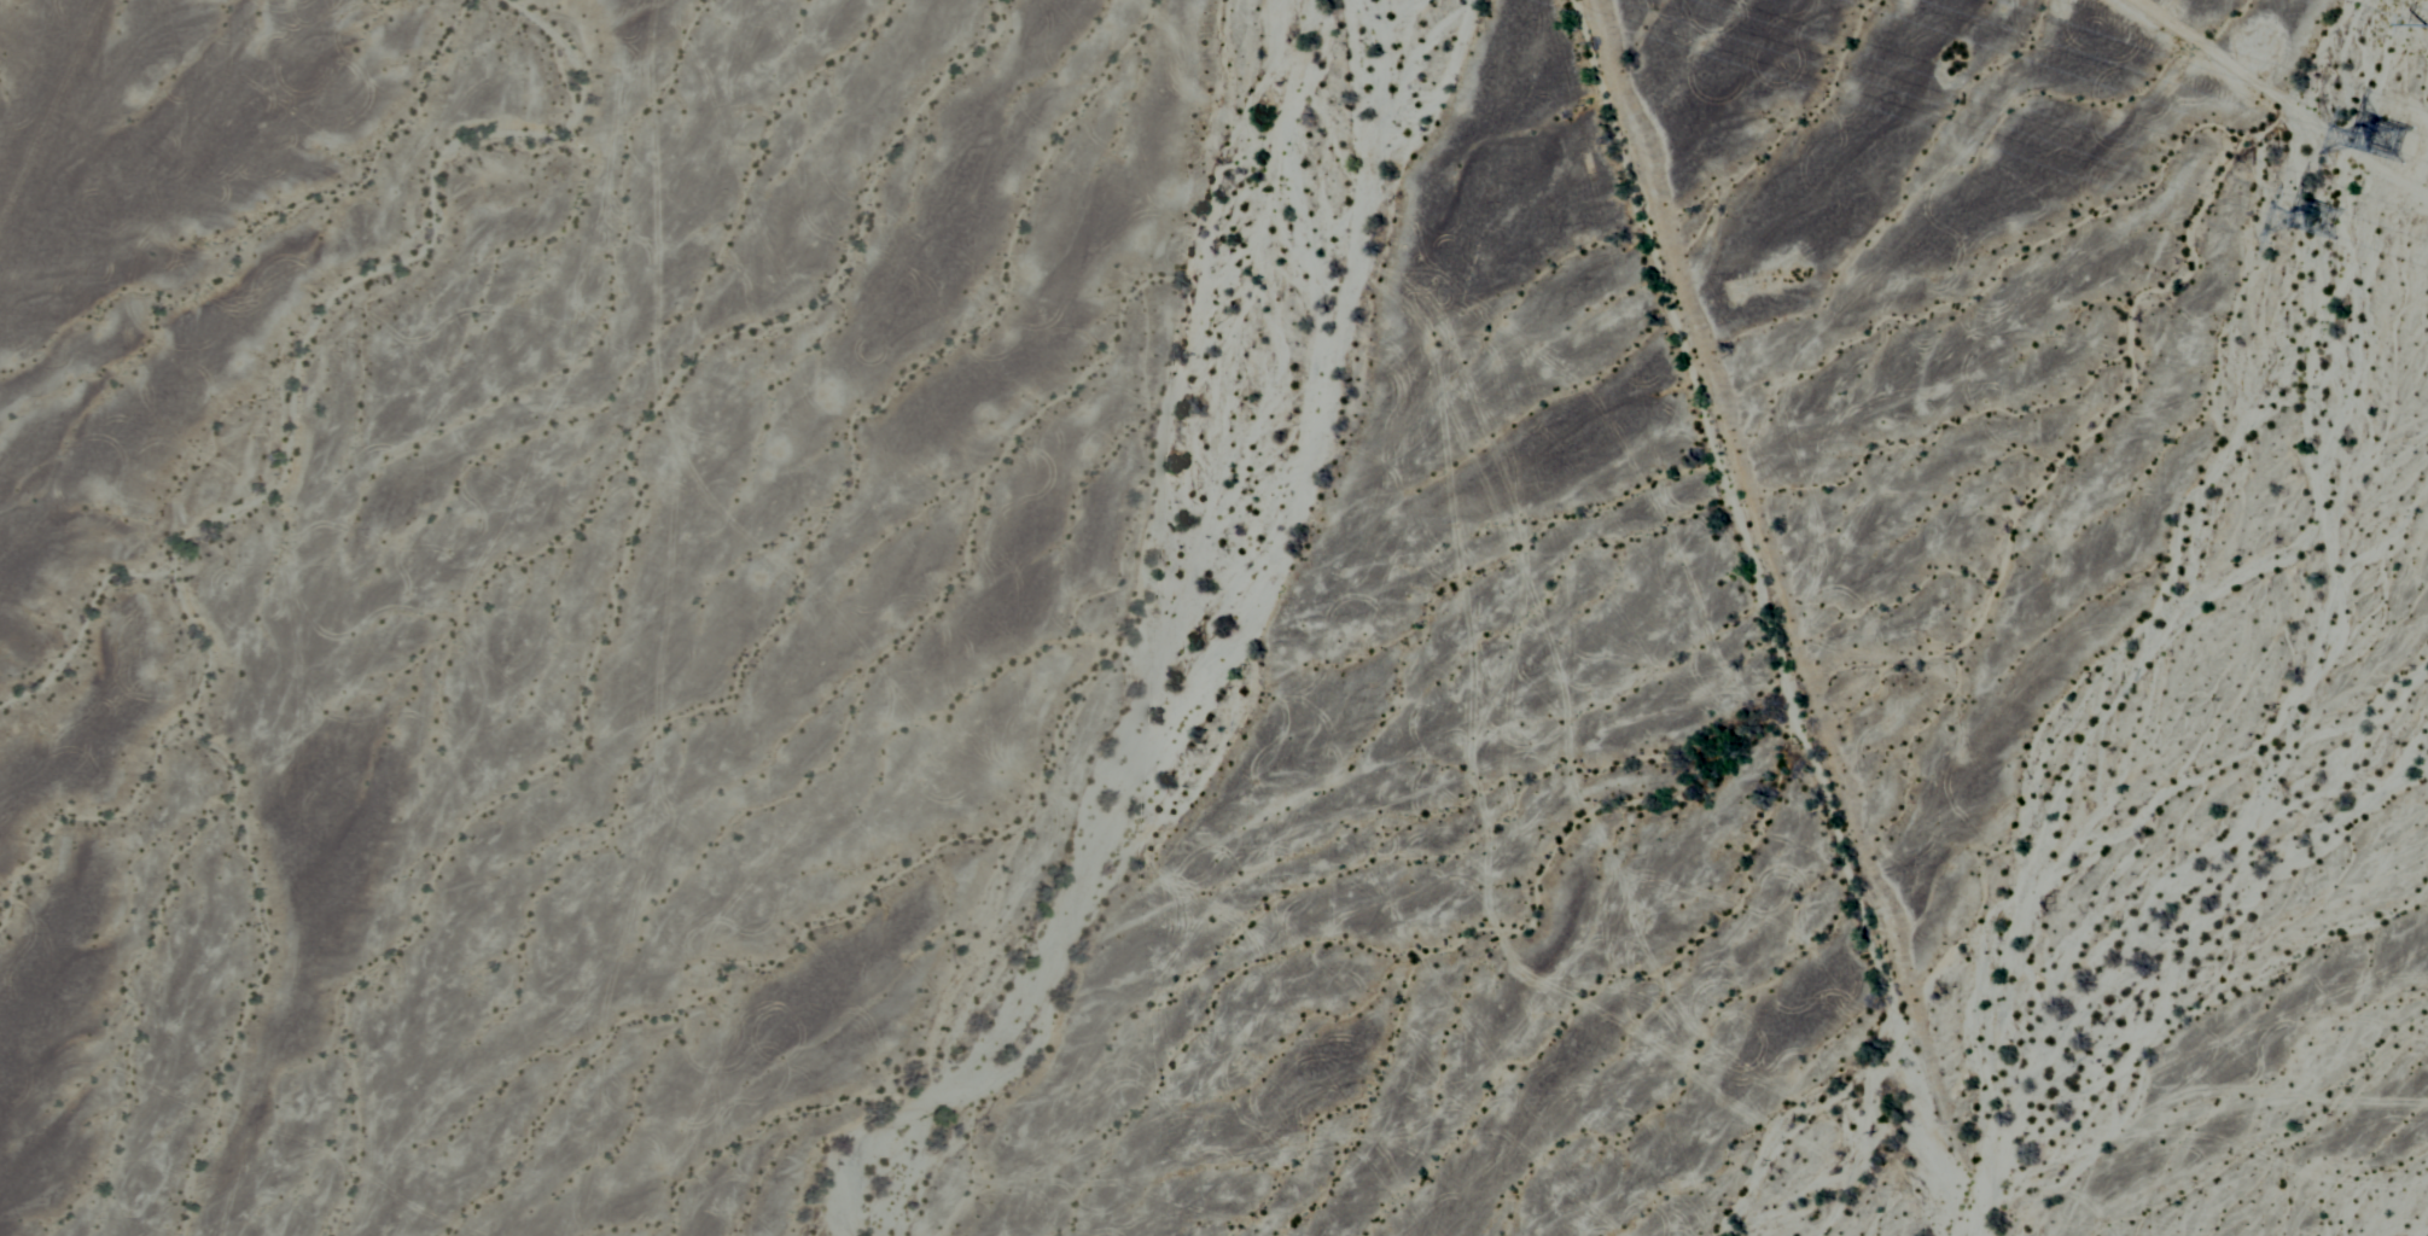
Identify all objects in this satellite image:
power tower: (2382, 138)
power tower: (2308, 215)

